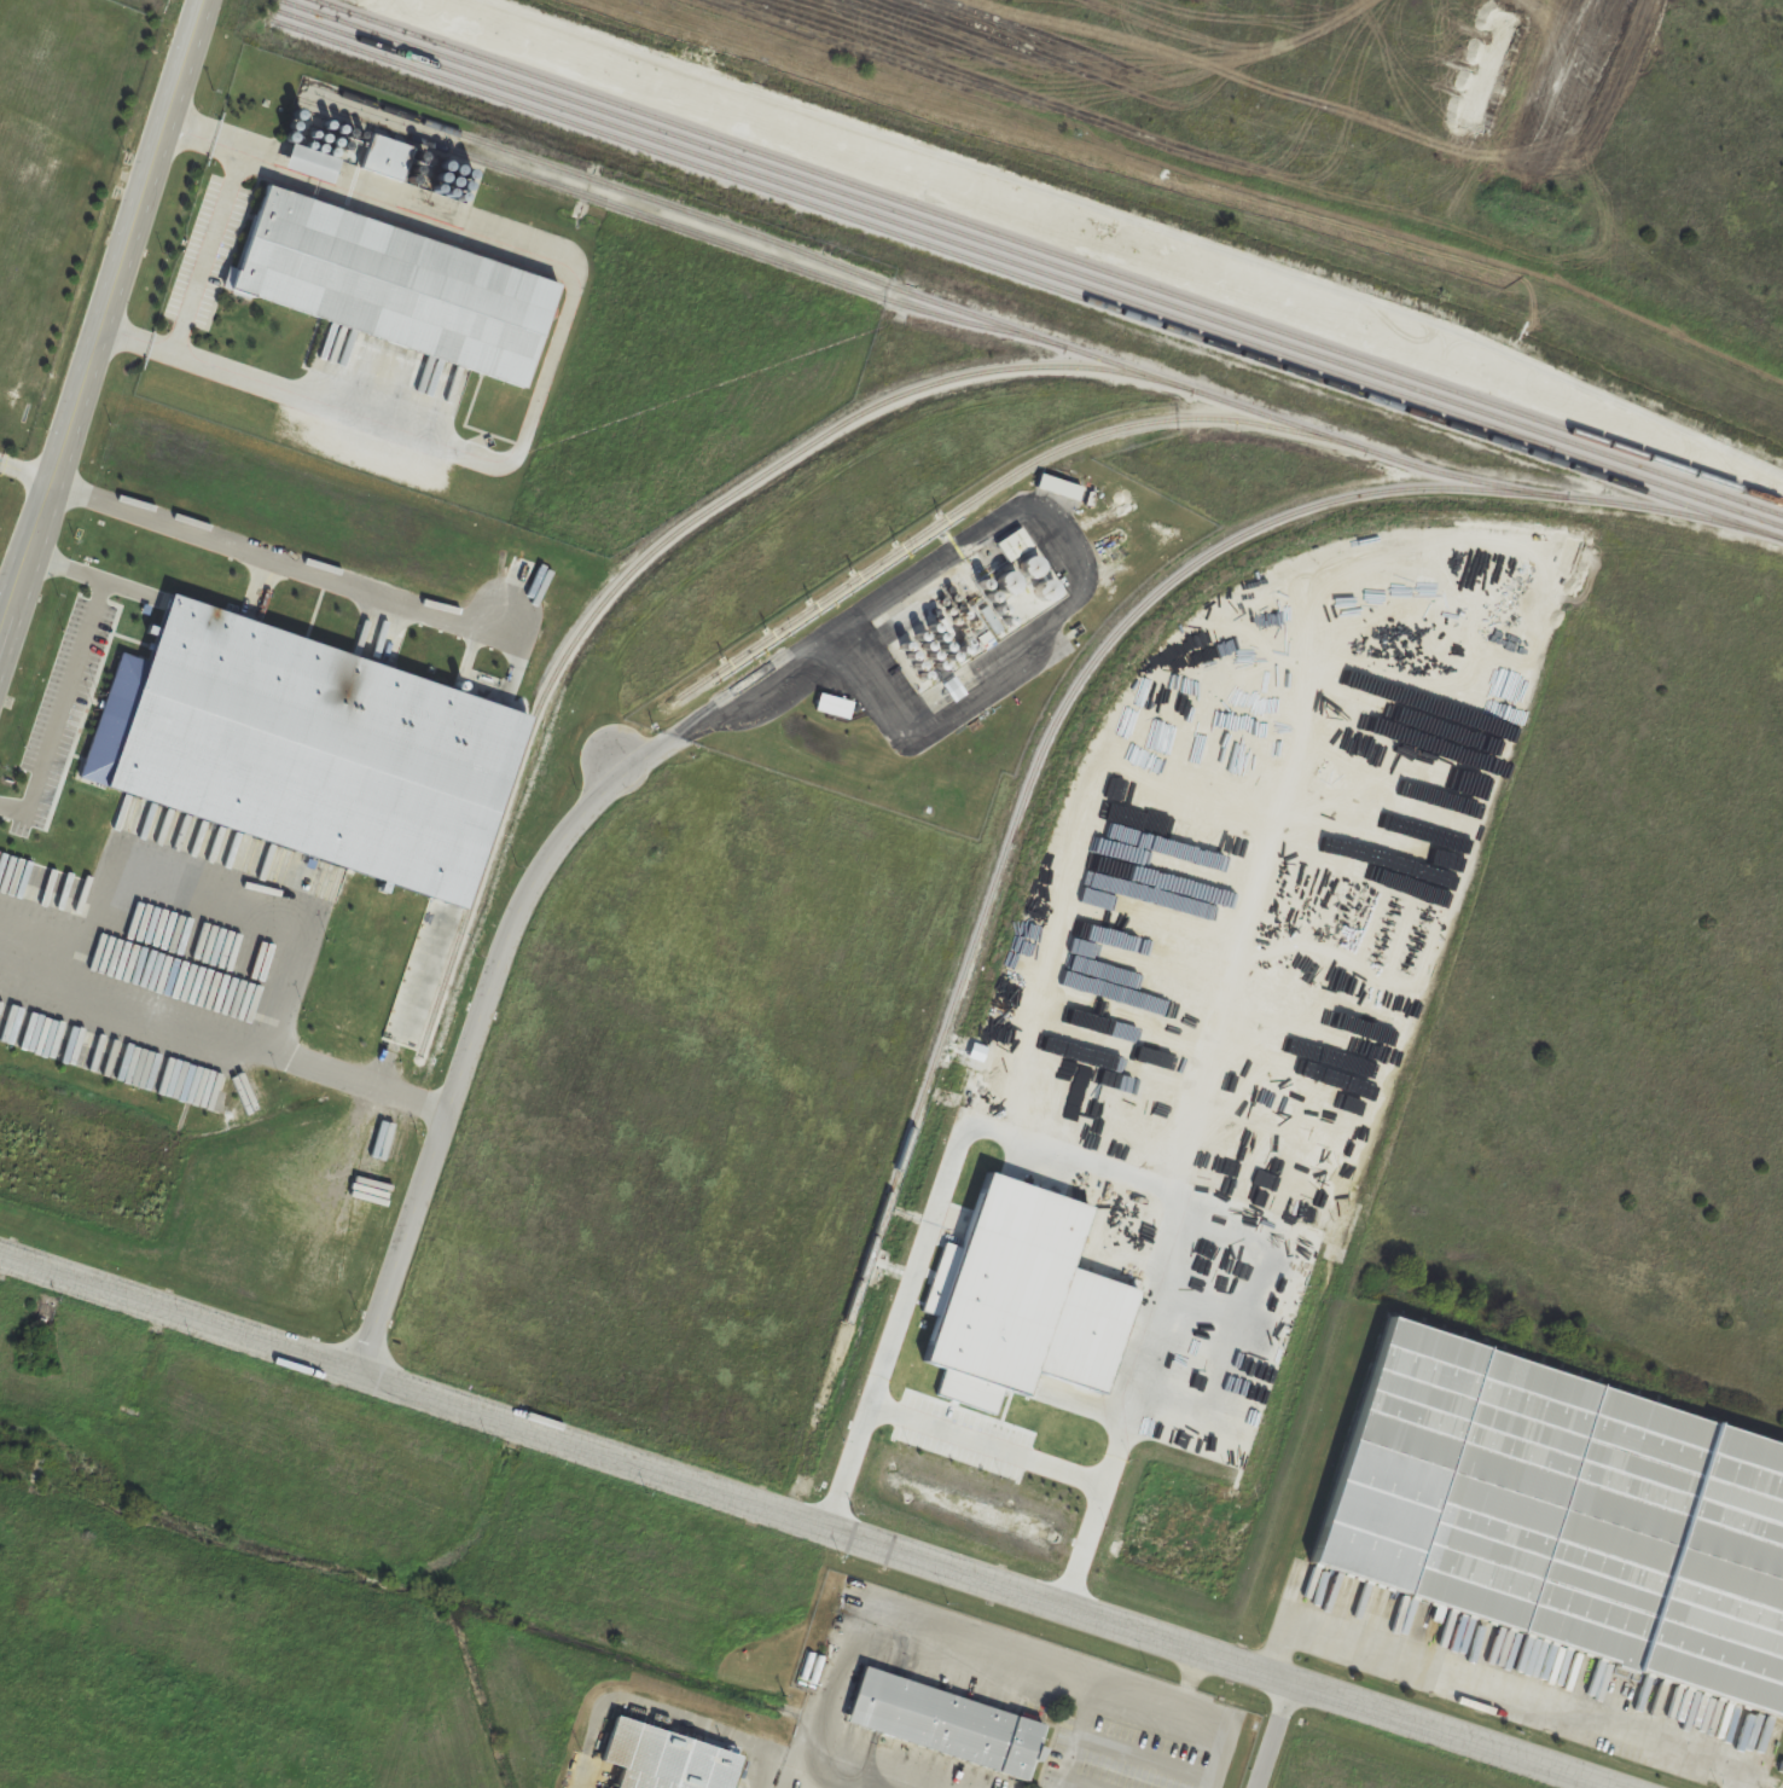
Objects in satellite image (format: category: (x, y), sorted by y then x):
road: (207, 248)
railway: (1052, 250)
railway: (1033, 256)
railway: (1030, 268)
railway: (1029, 279)
building: (384, 288)
road: (101, 315)
railway: (1190, 389)
railway: (856, 416)
road: (25, 472)
railway: (997, 483)
road: (281, 561)
railway: (1107, 646)
road: (72, 672)
road: (763, 698)
building: (297, 751)
road: (194, 944)
road: (472, 1028)
road: (216, 1039)
road: (1085, 1162)
road: (988, 1444)
building: (1558, 1517)
road: (809, 1523)
road: (976, 1647)
road: (1191, 1679)
road: (1486, 1685)
building: (941, 1723)
road: (1273, 1734)
building: (661, 1759)
road: (817, 1778)
road: (1737, 1778)

